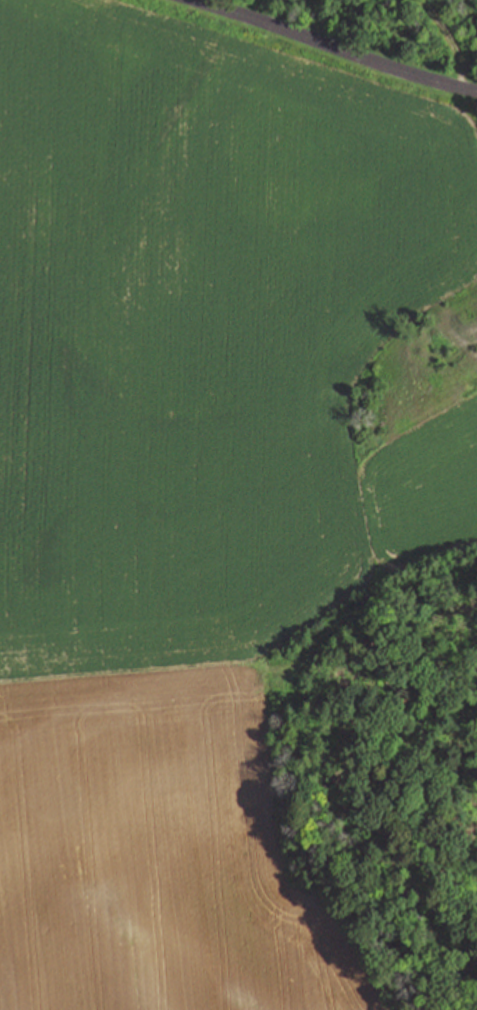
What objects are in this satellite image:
road: (333, 47)

